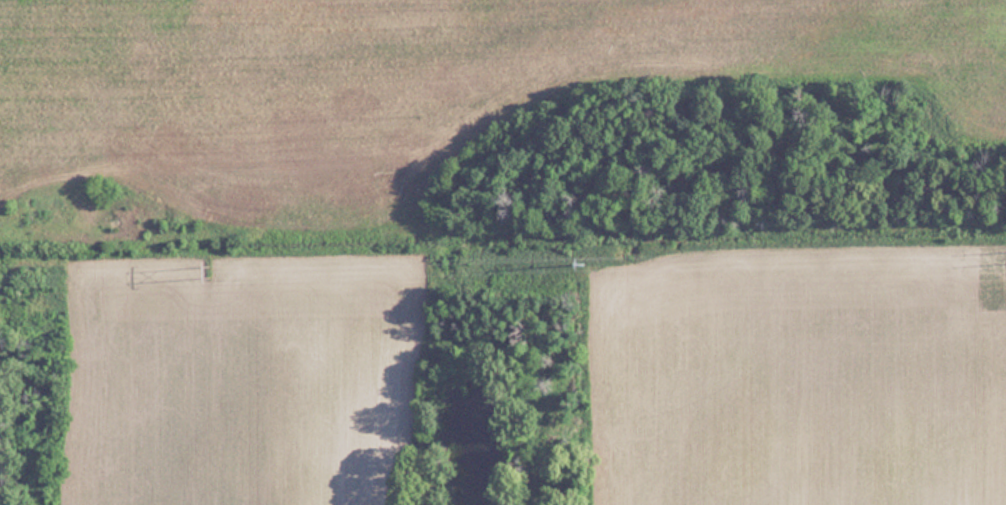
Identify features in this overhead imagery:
power tower: (583, 266)
power tower: (214, 276)

